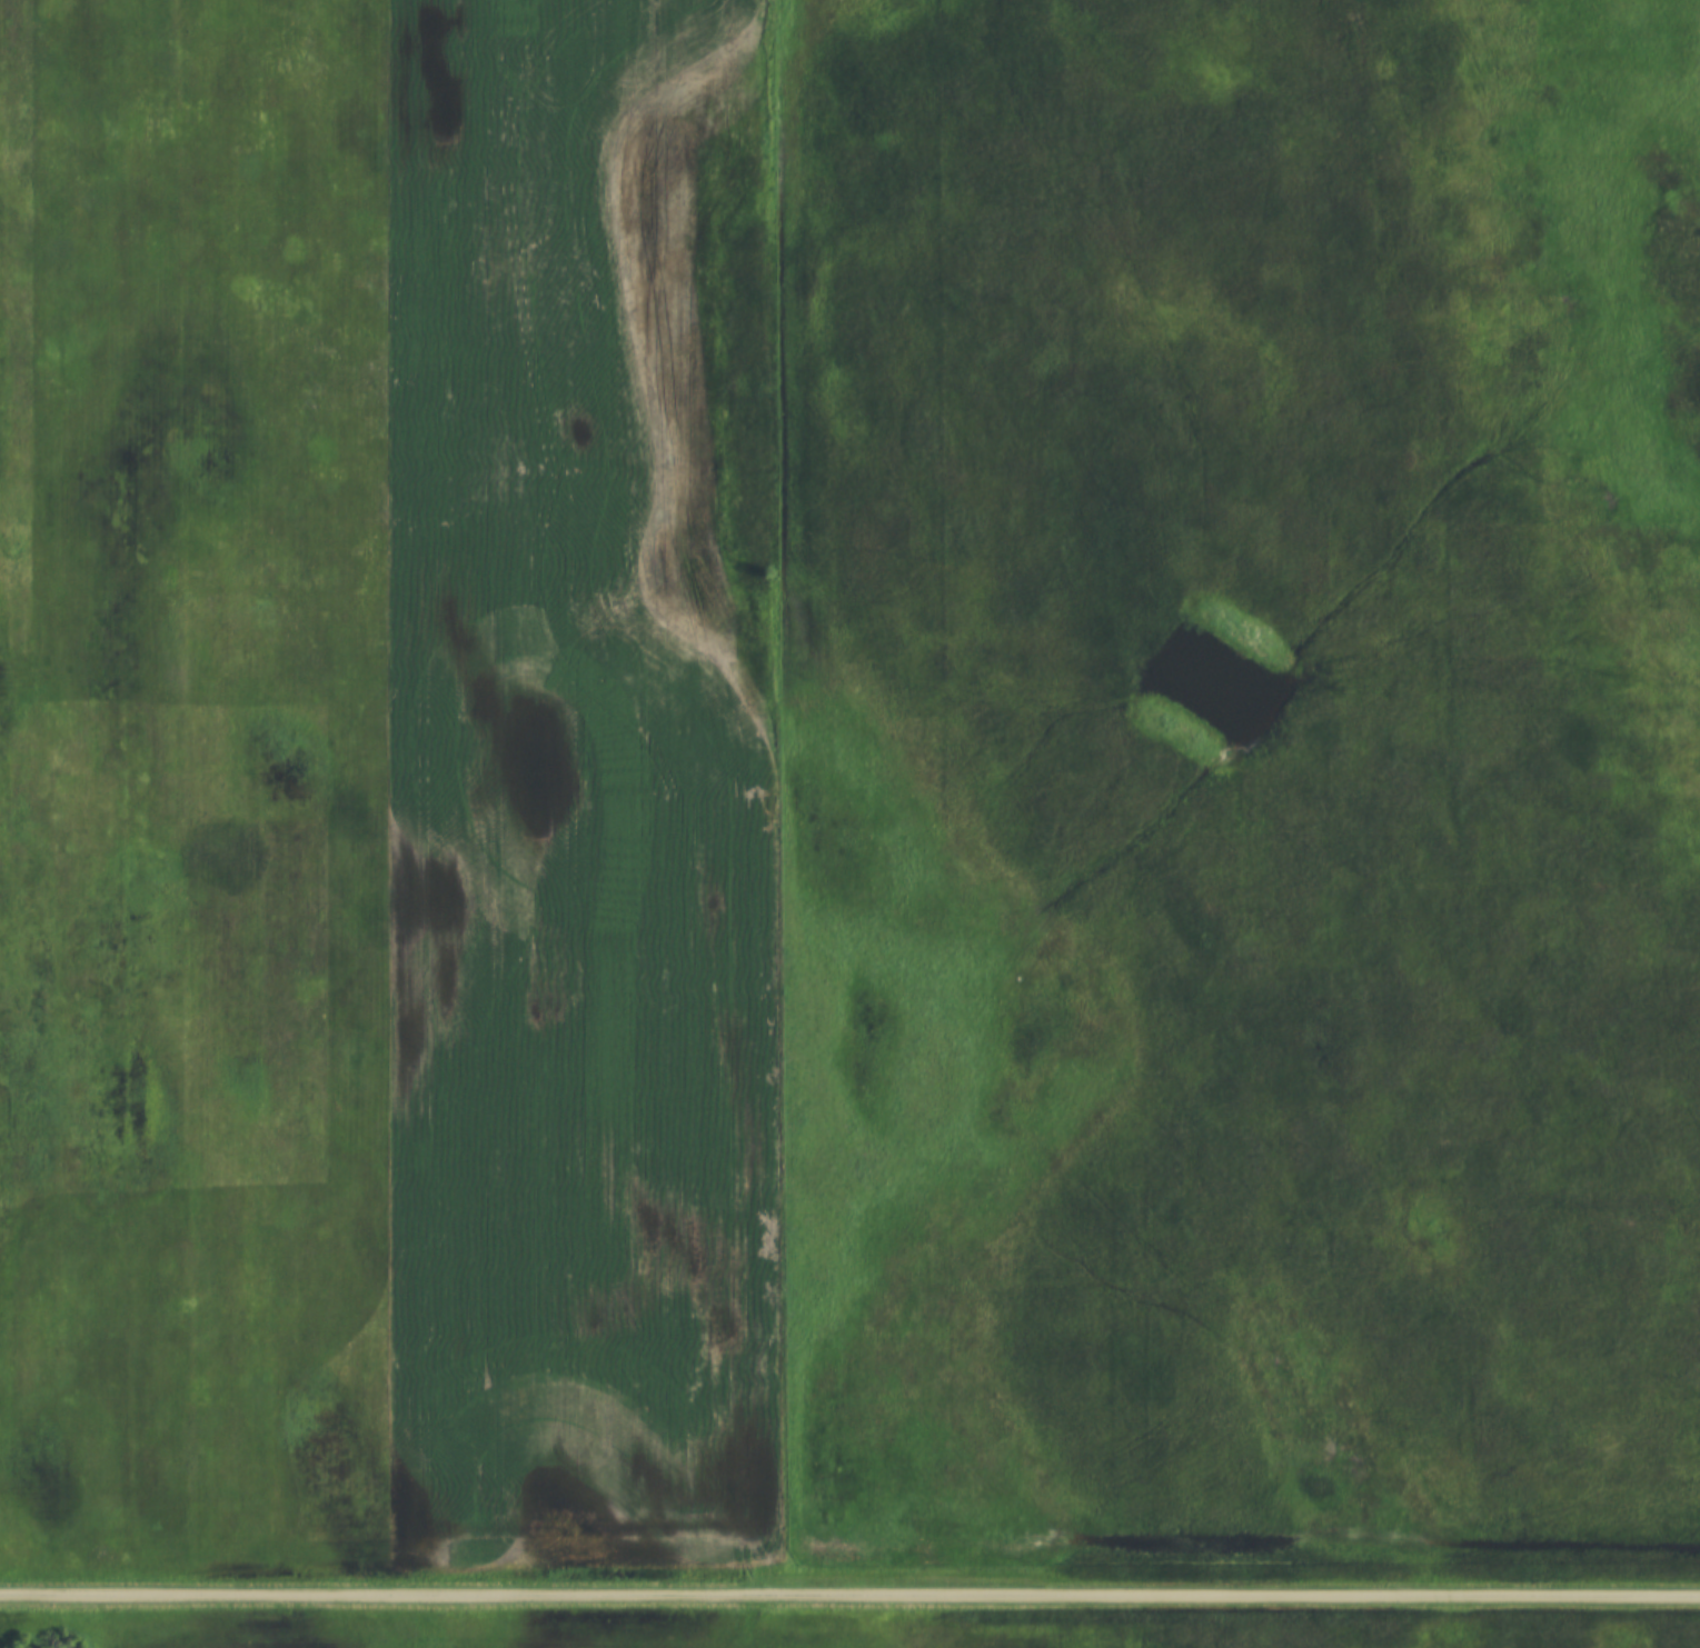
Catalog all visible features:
road: (849, 1599)

